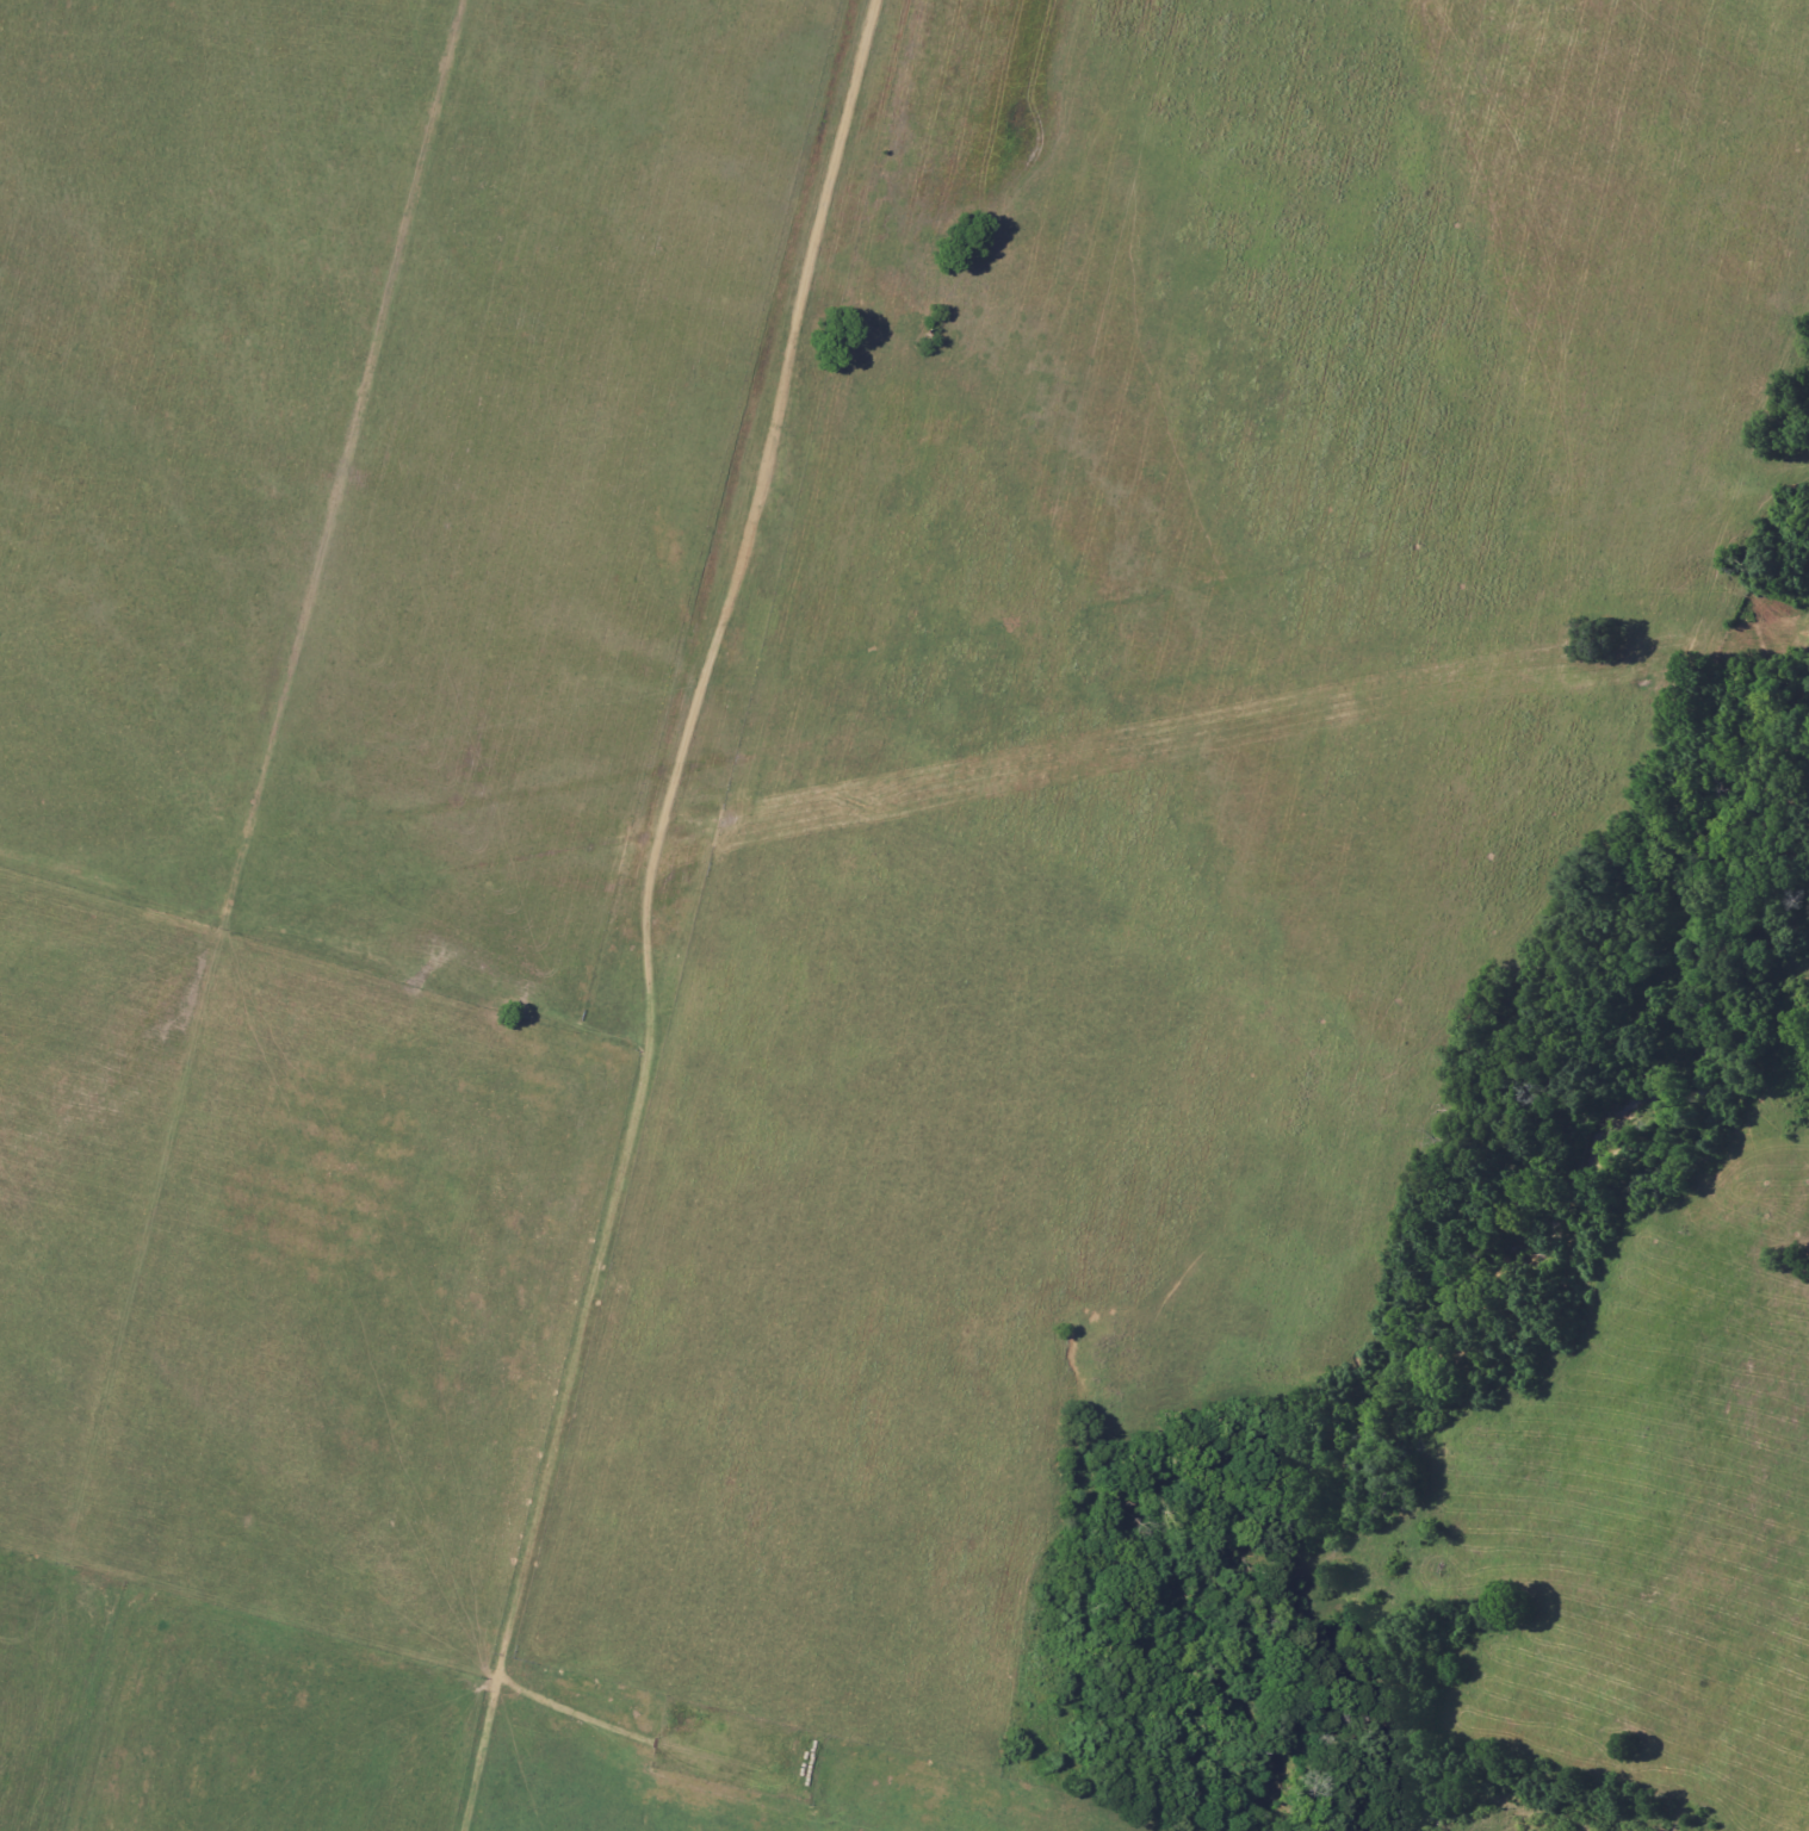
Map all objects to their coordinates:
road: (1541, 67)

